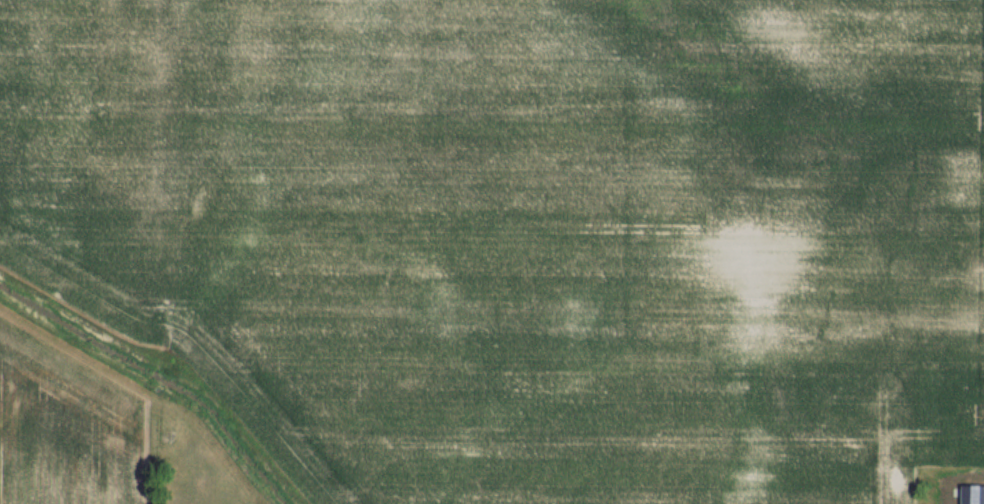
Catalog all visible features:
building: (955, 498)

